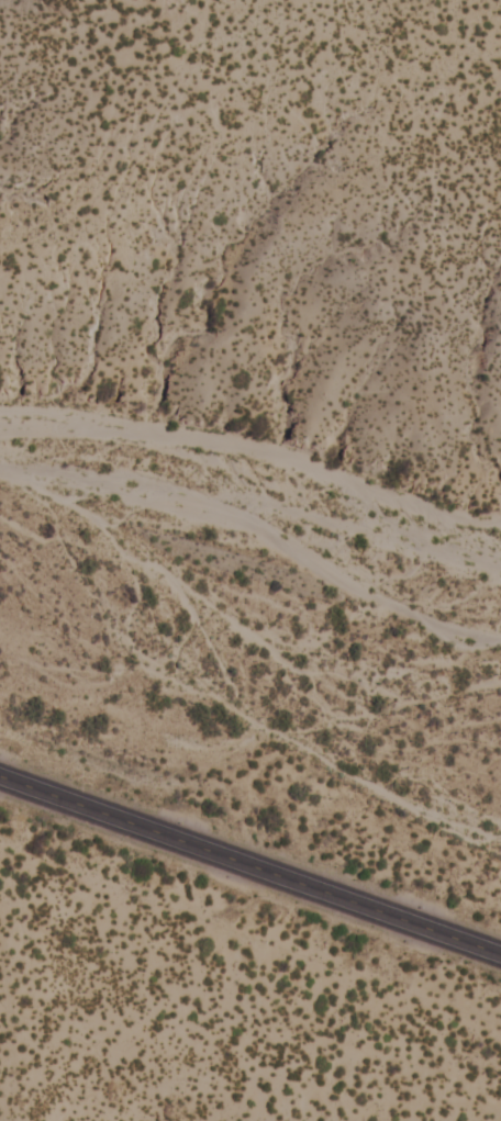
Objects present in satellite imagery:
road: (250, 864)

